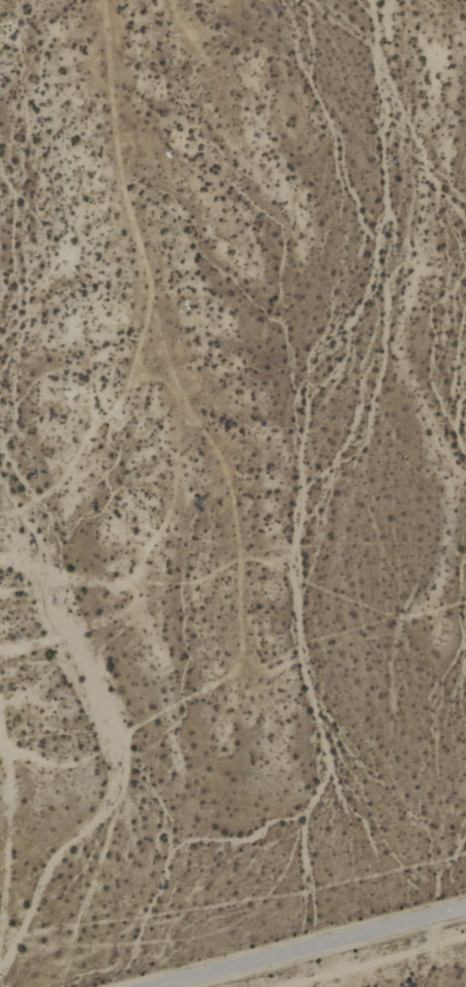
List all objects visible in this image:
road: (312, 947)

